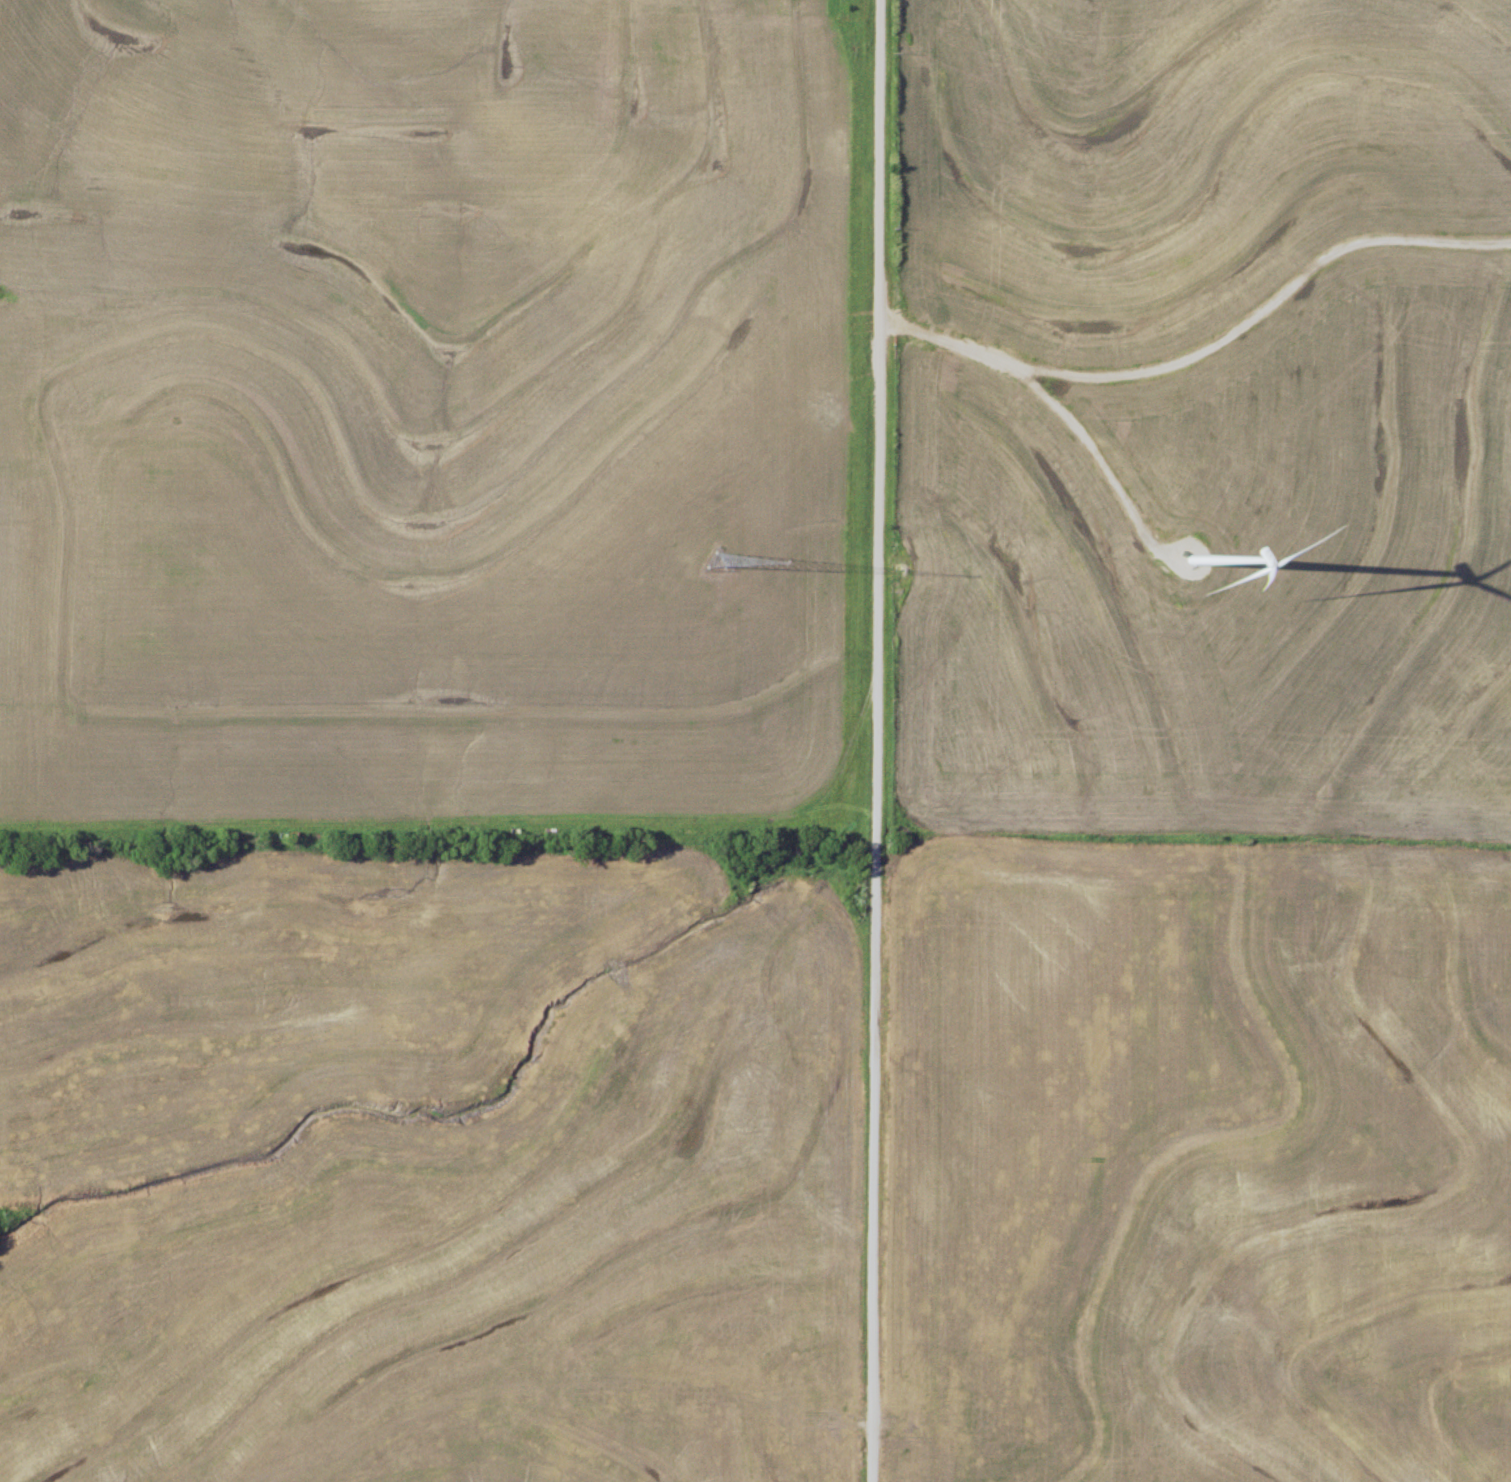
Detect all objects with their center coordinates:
wind turbine: (1174, 573)
road: (874, 741)

